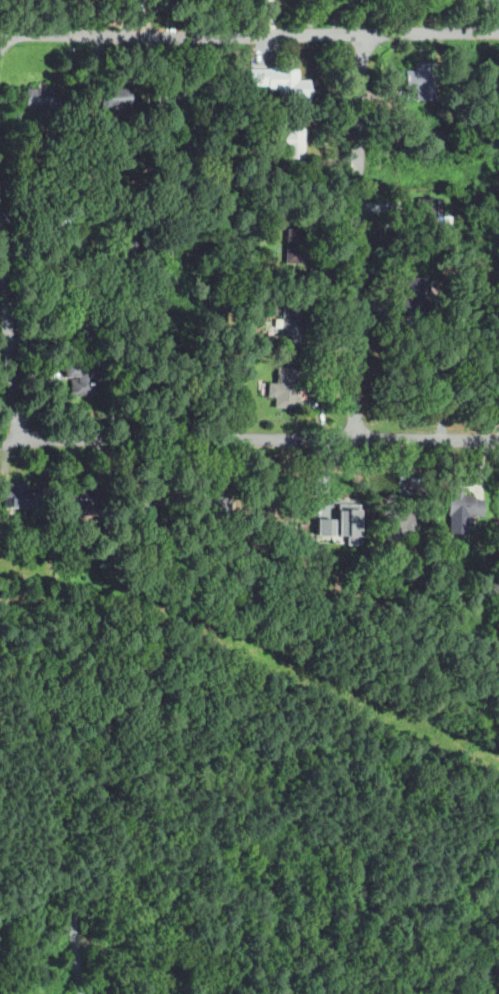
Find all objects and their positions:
road: (247, 33)
road: (6, 34)
street lamp: (213, 50)
building: (420, 81)
building: (289, 83)
building: (169, 95)
building: (41, 98)
building: (114, 100)
building: (290, 141)
building: (98, 147)
building: (146, 206)
building: (427, 213)
road: (52, 215)
building: (268, 219)
building: (242, 227)
building: (132, 231)
road: (359, 235)
building: (295, 246)
street lamp: (372, 249)
building: (416, 295)
building: (81, 304)
building: (291, 324)
building: (475, 344)
building: (430, 375)
building: (82, 377)
building: (285, 388)
street lamp: (370, 421)
road: (16, 437)
road: (171, 439)
road: (16, 440)
building: (16, 496)
building: (86, 500)
building: (149, 503)
building: (464, 505)
building: (214, 508)
building: (277, 513)
building: (398, 520)
building: (342, 523)
building: (303, 526)
building: (491, 548)
building: (128, 561)
building: (170, 572)
road: (284, 823)
road: (59, 841)

